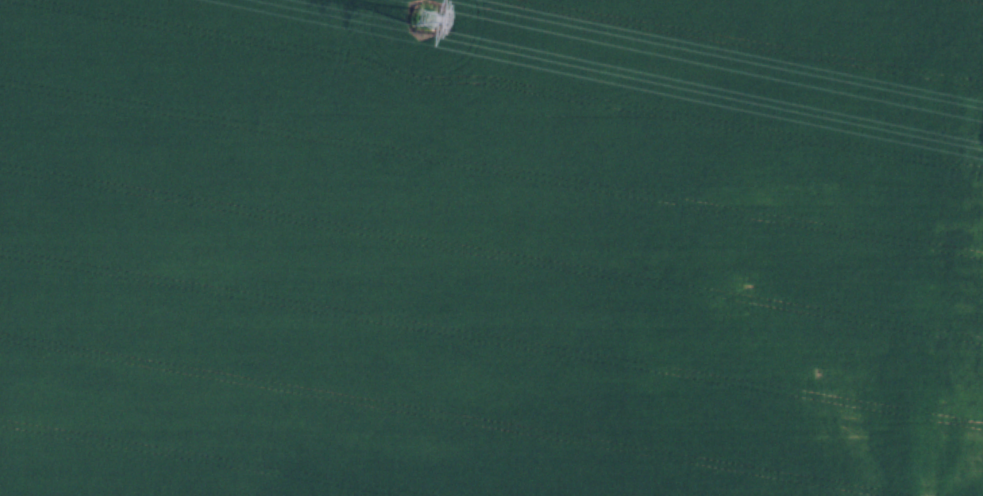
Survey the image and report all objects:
power tower: (422, 24)

